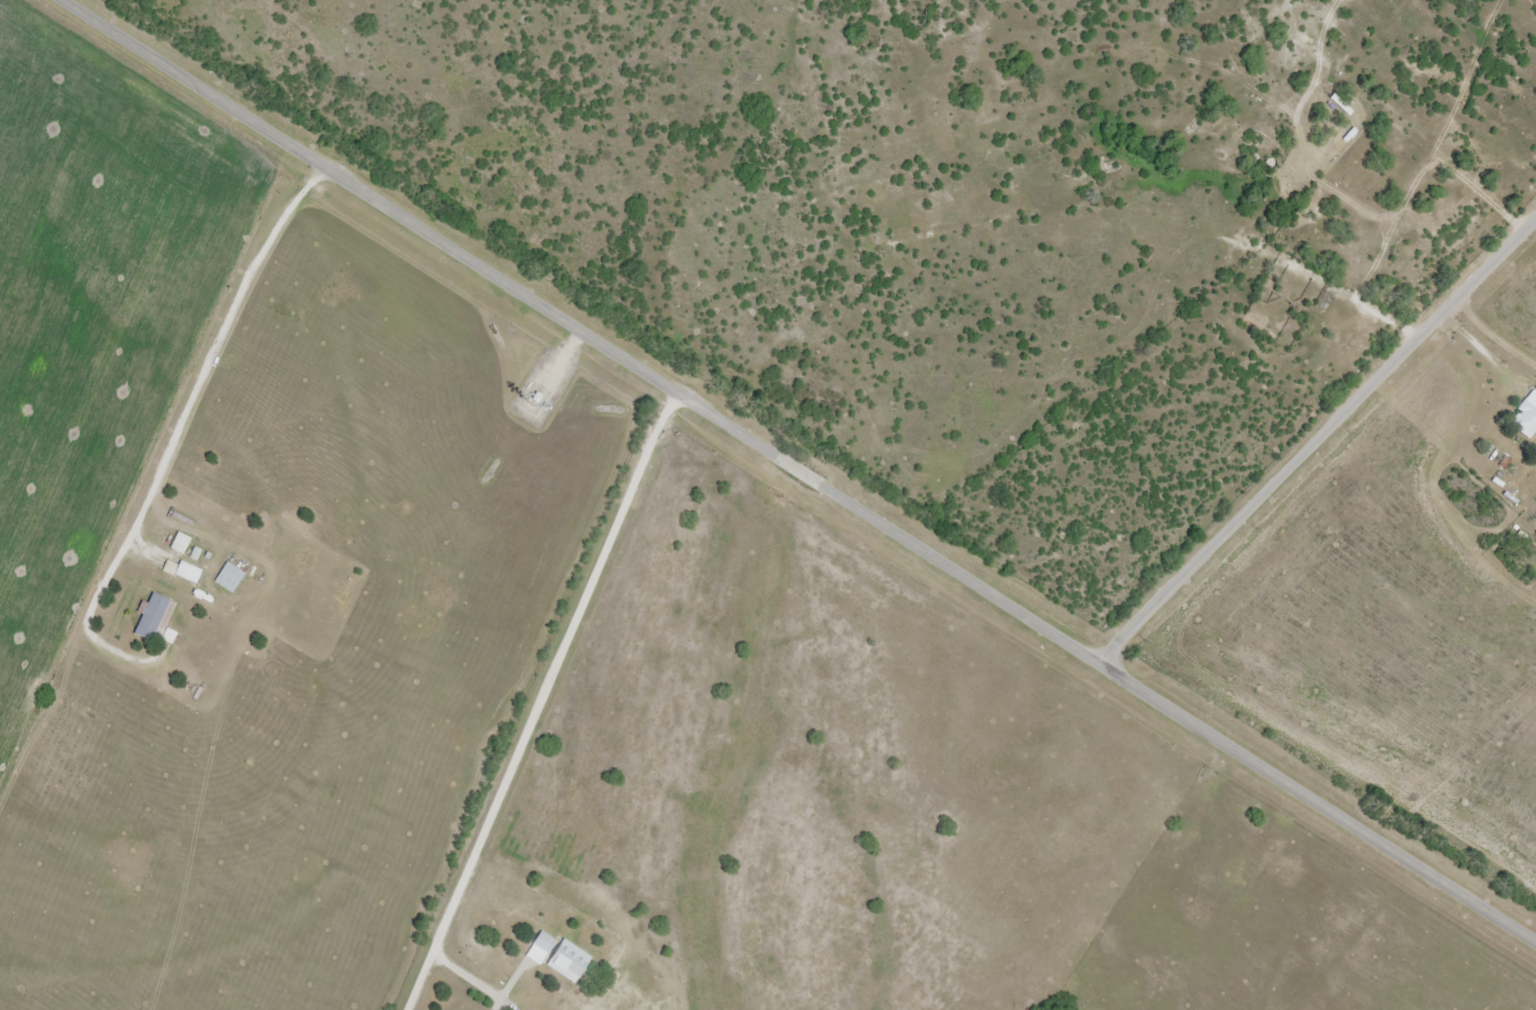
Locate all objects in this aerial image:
road: (1232, 225)
road: (1473, 344)
building: (1526, 416)
road: (1313, 432)
road: (797, 470)
building: (181, 544)
building: (189, 573)
building: (230, 578)
building: (155, 619)
building: (541, 949)
building: (568, 961)

